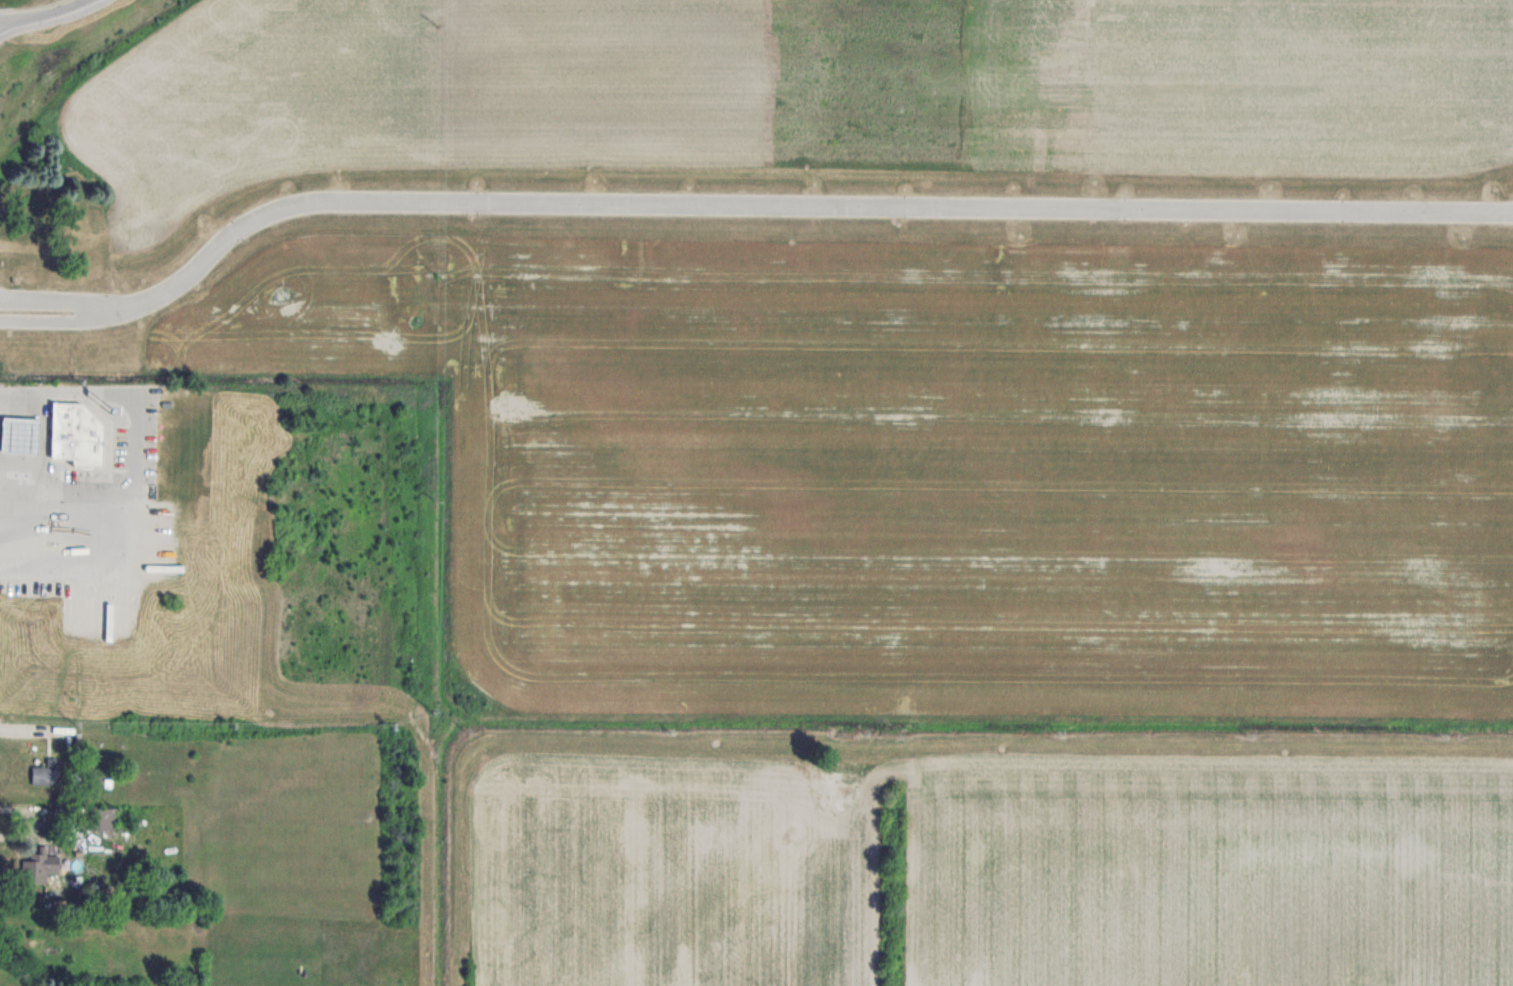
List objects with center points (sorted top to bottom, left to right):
road: (41, 13)
crop: (800, 86)
road: (802, 203)
road: (63, 300)
road: (64, 321)
building: (75, 433)
building: (18, 434)
road: (136, 441)
crop: (940, 469)
building: (45, 774)
crop: (996, 872)

